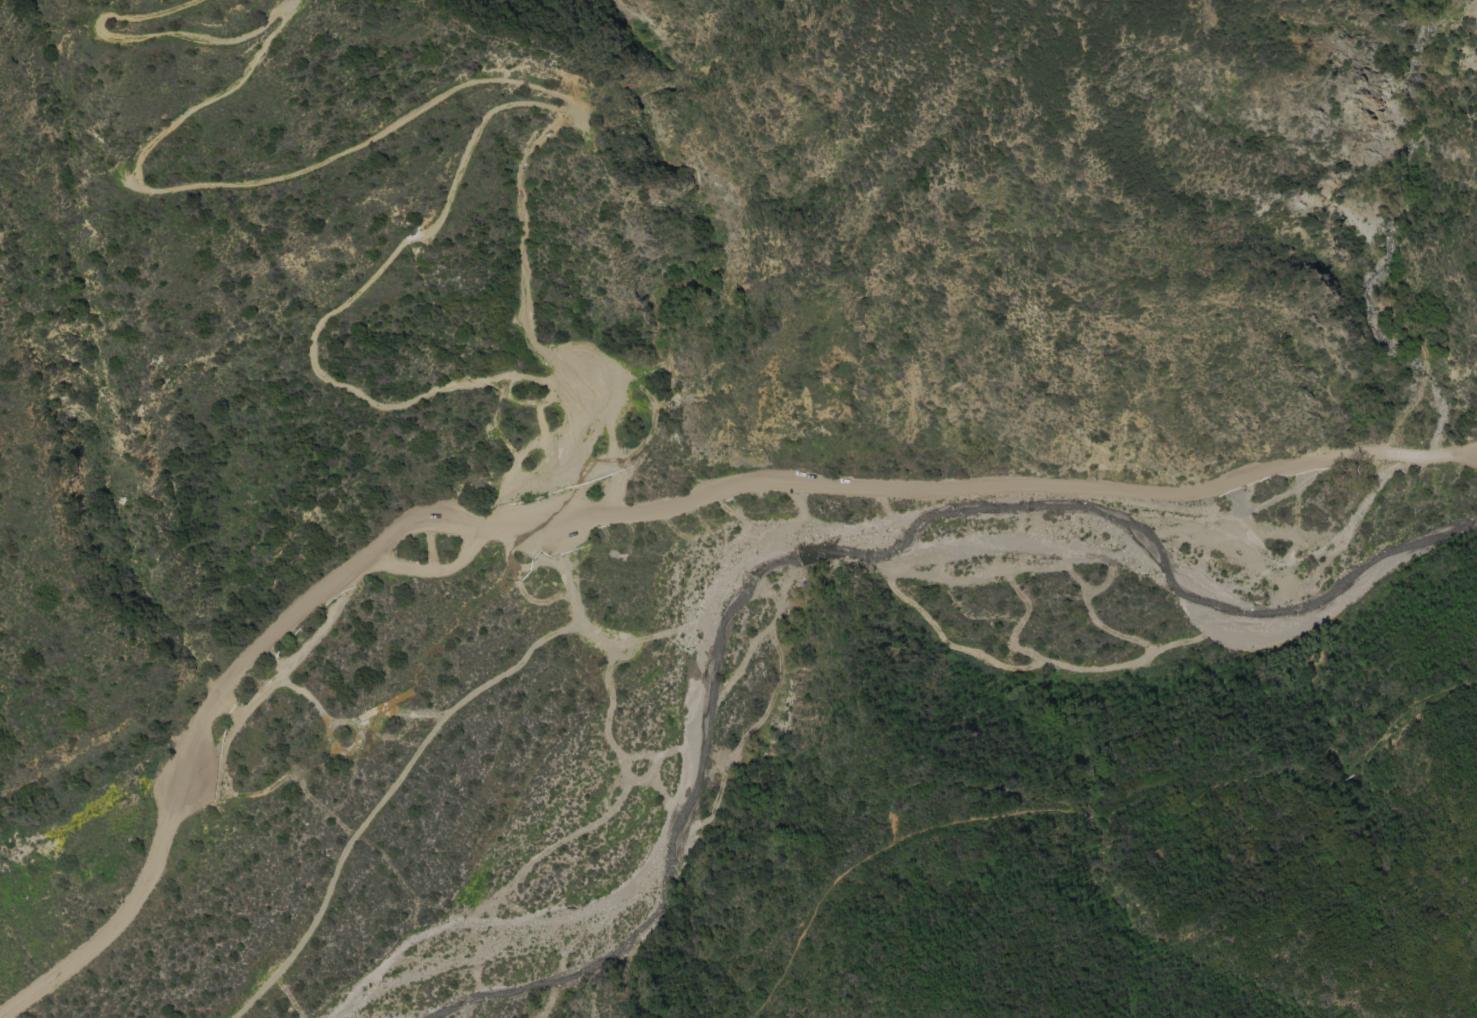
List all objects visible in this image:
road: (519, 85)
road: (1465, 452)
road: (1417, 453)
road: (1047, 508)
road: (566, 516)
river: (831, 553)
road: (1112, 561)
road: (1311, 574)
road: (1084, 595)
road: (950, 643)
road: (1011, 656)
road: (1088, 669)
road: (1287, 771)
road: (1046, 799)
road: (51, 831)
road: (809, 918)

